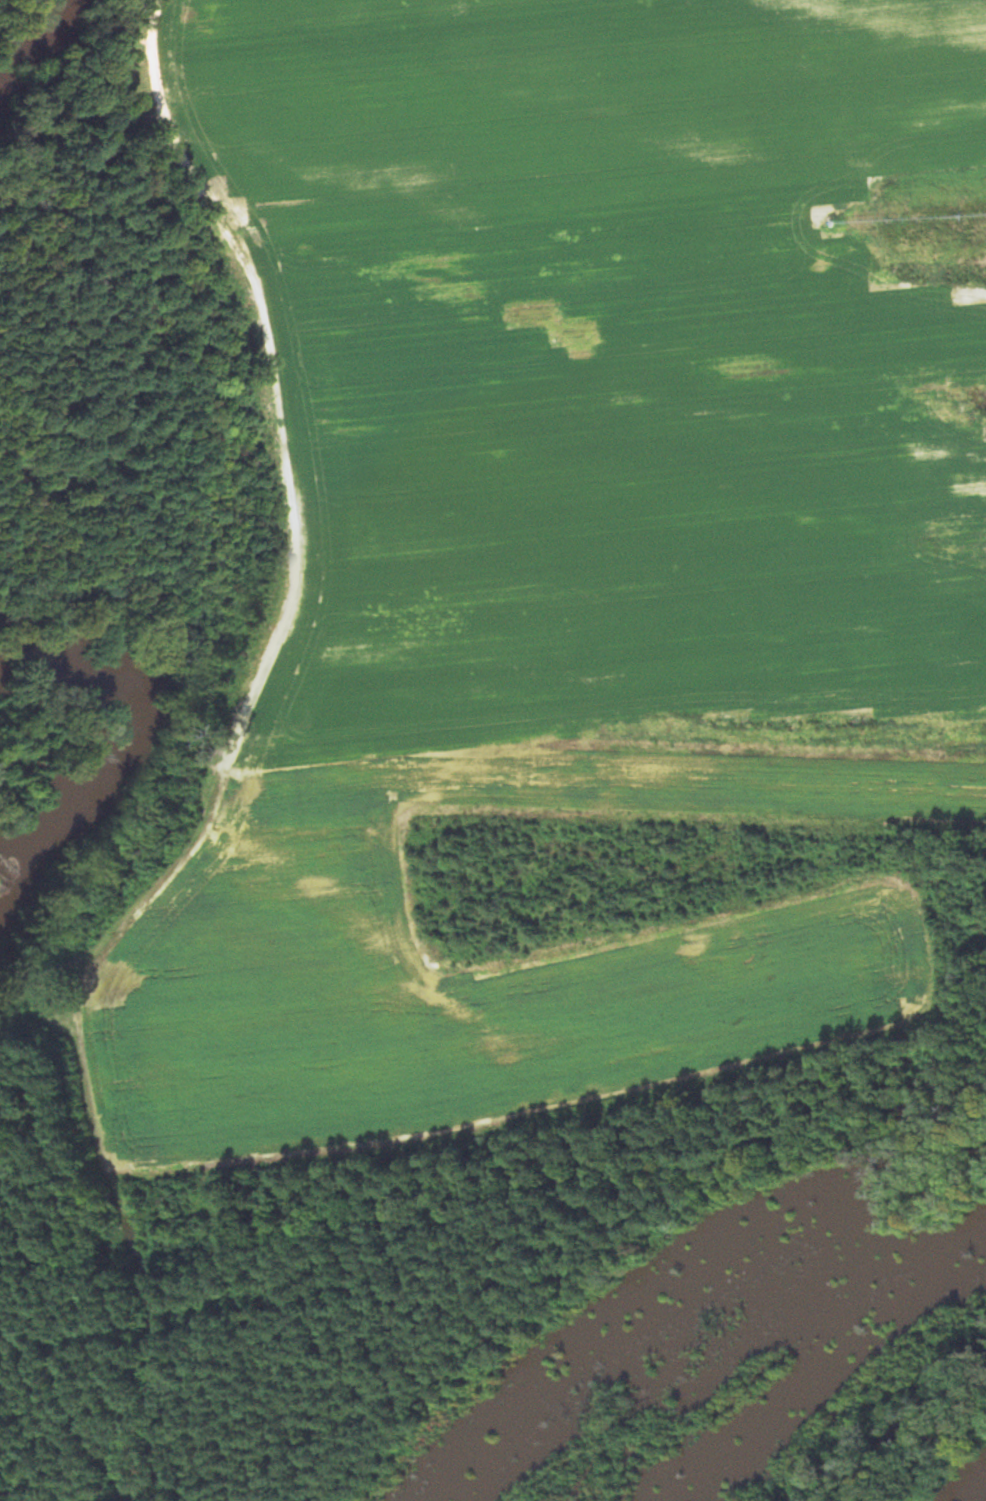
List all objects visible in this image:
river: (26, 31)
river: (113, 741)
river: (970, 1487)

